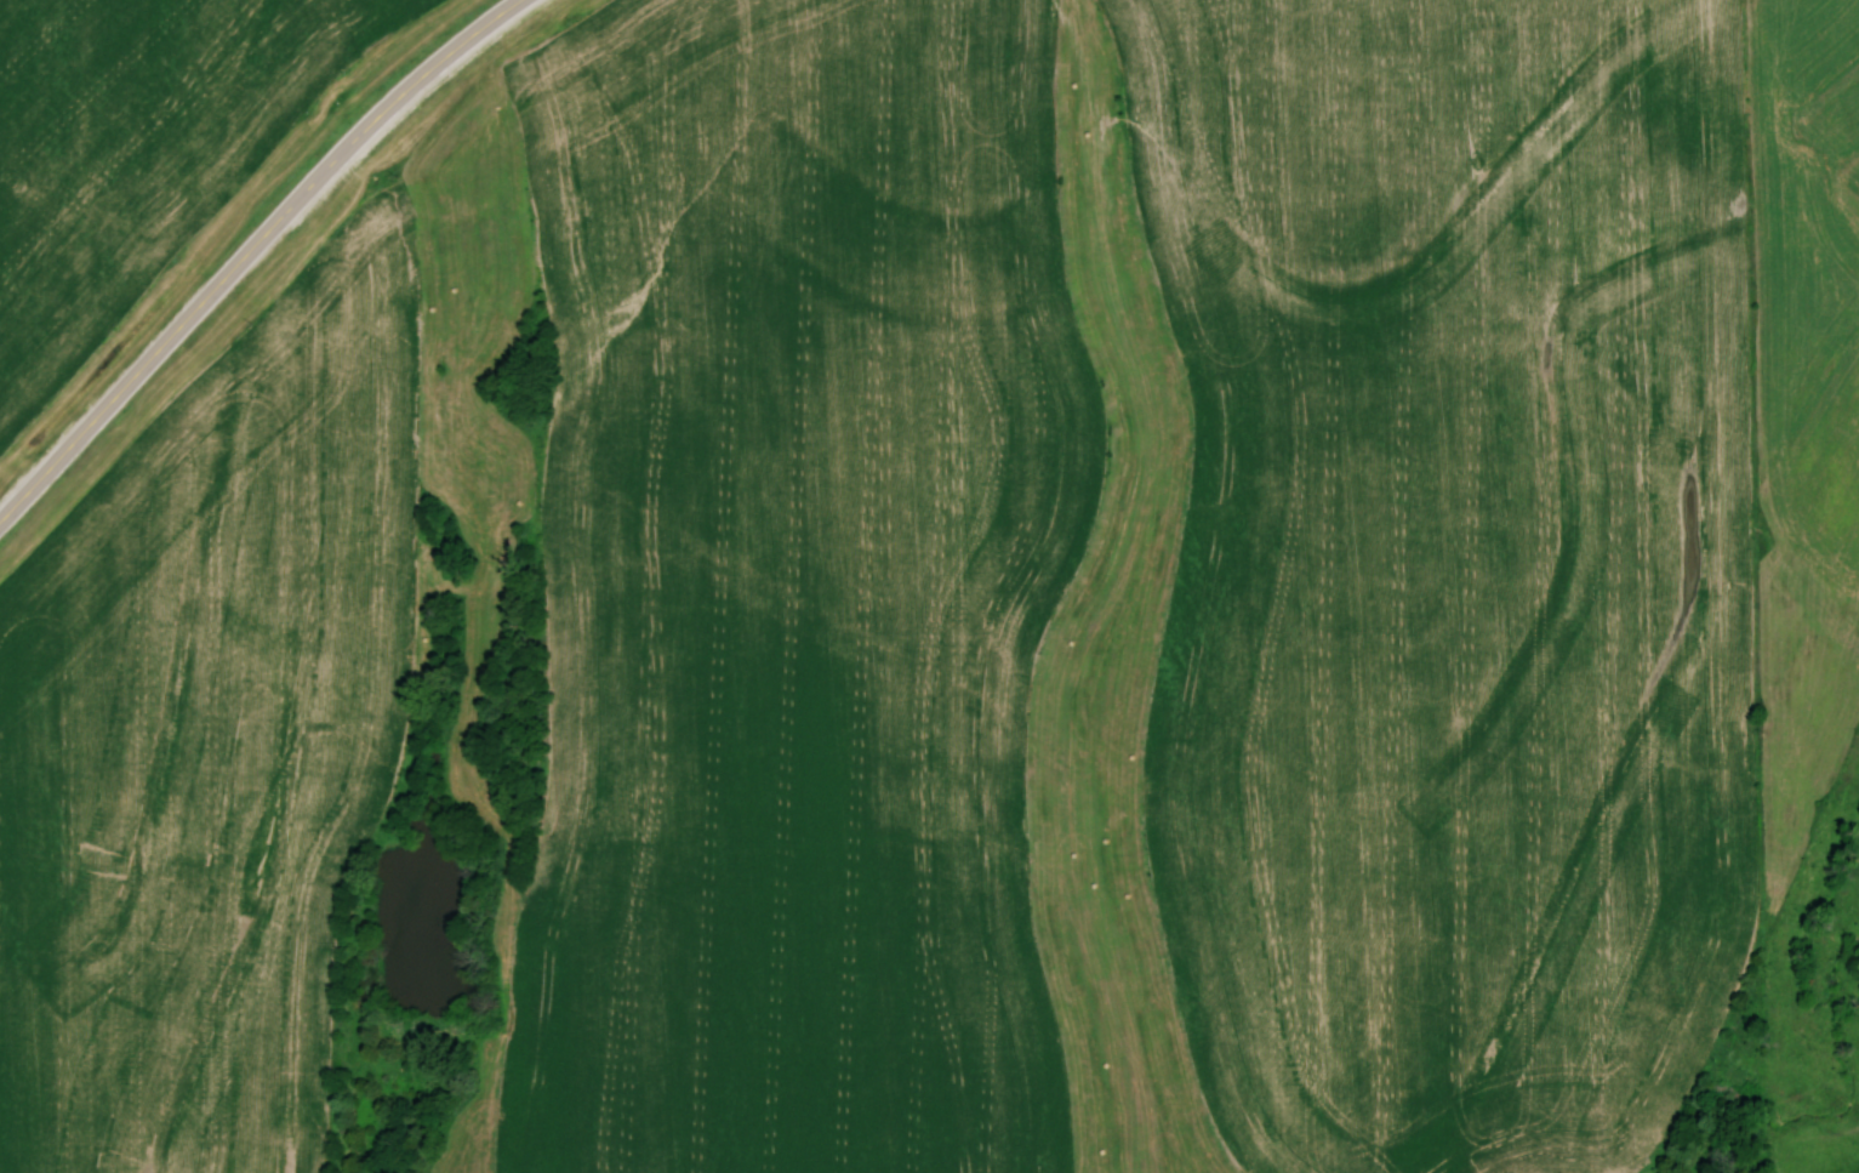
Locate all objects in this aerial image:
road: (251, 250)

